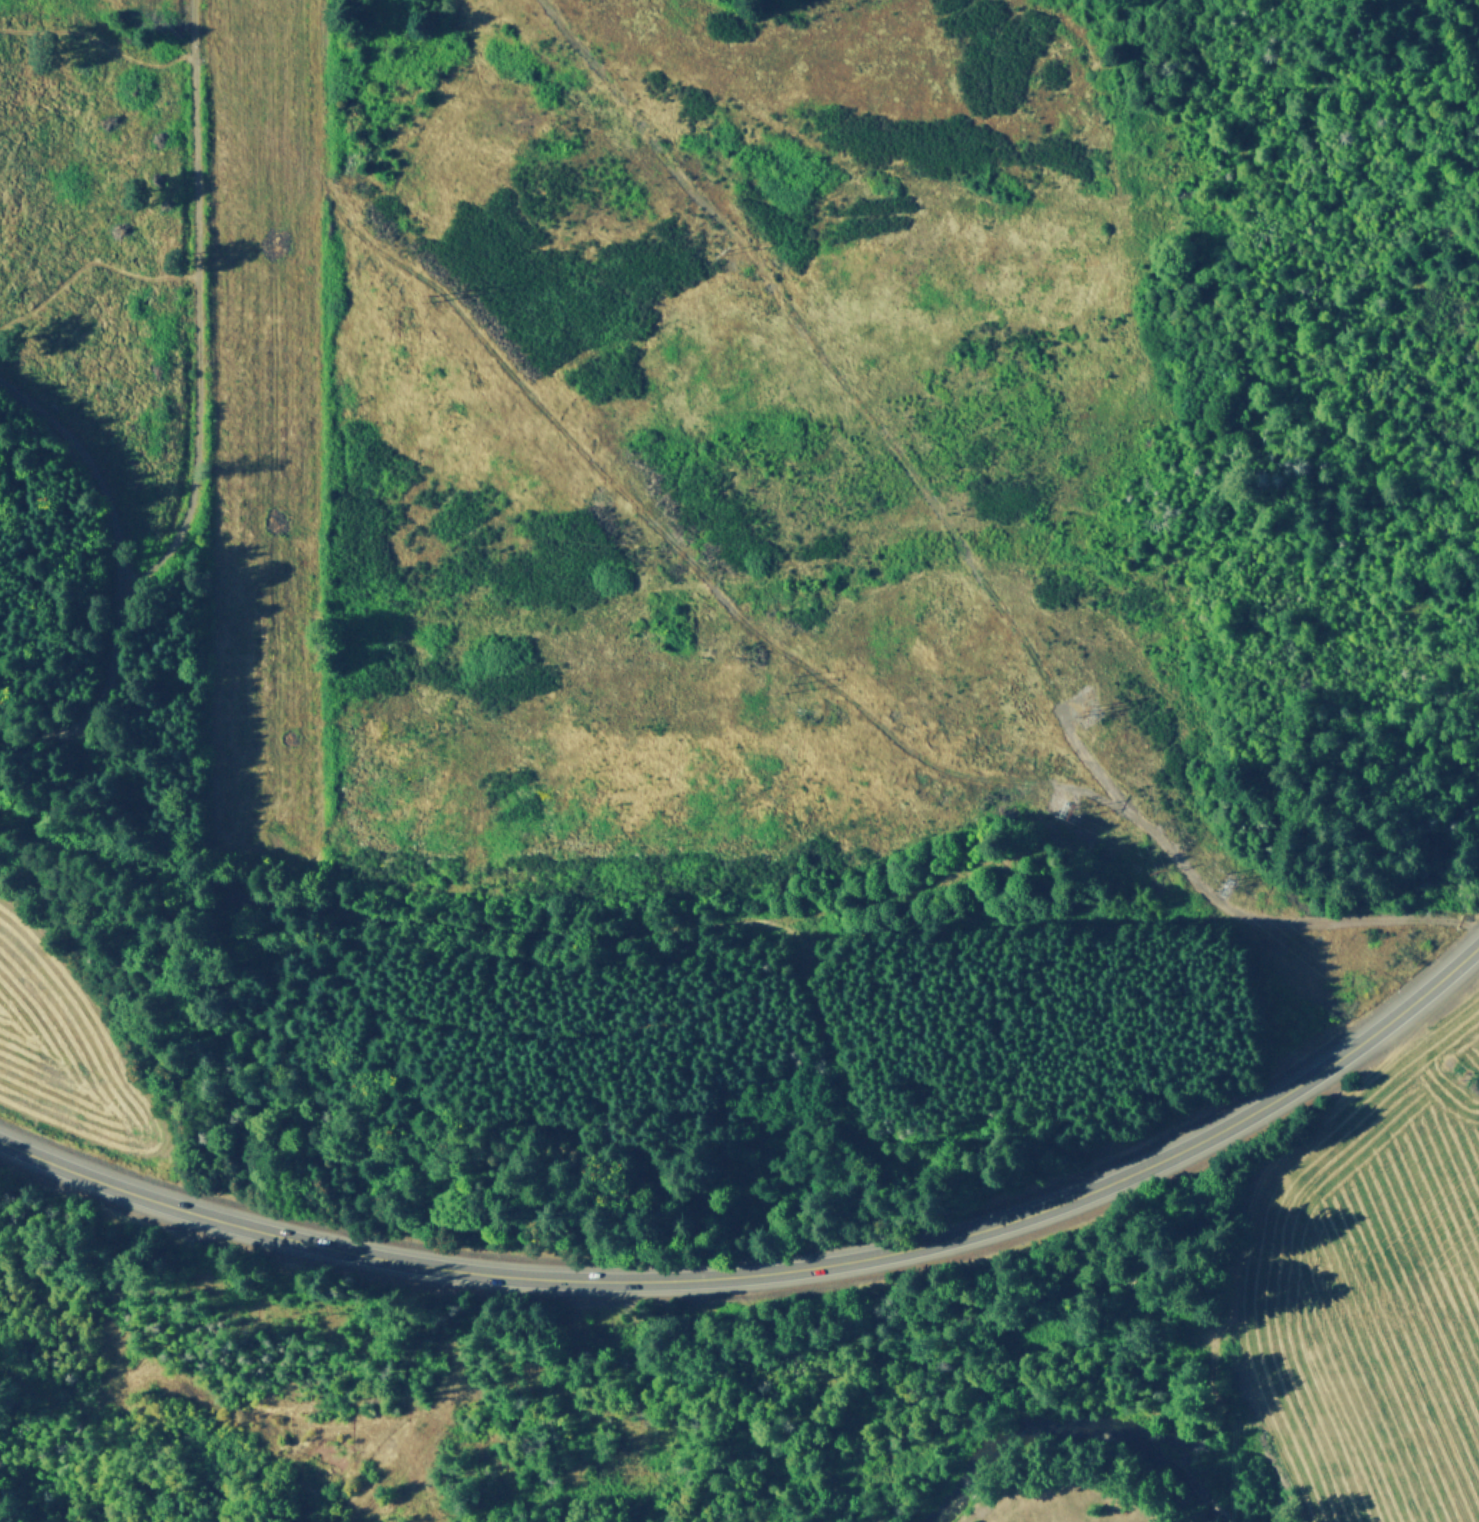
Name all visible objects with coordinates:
road: (194, 316)
road: (580, 456)
road: (95, 476)
road: (90, 707)
road: (1235, 907)
crop: (72, 1049)
road: (771, 1272)
crop: (1371, 1290)
road: (271, 1319)
road: (247, 1409)
river: (1070, 1462)

